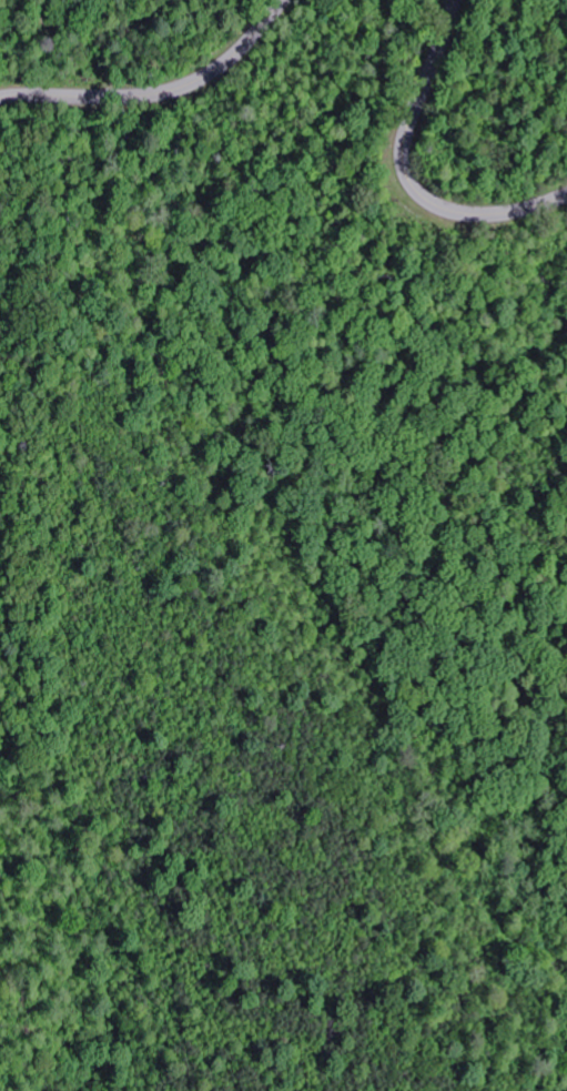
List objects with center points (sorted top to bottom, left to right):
road: (159, 92)
road: (407, 171)

